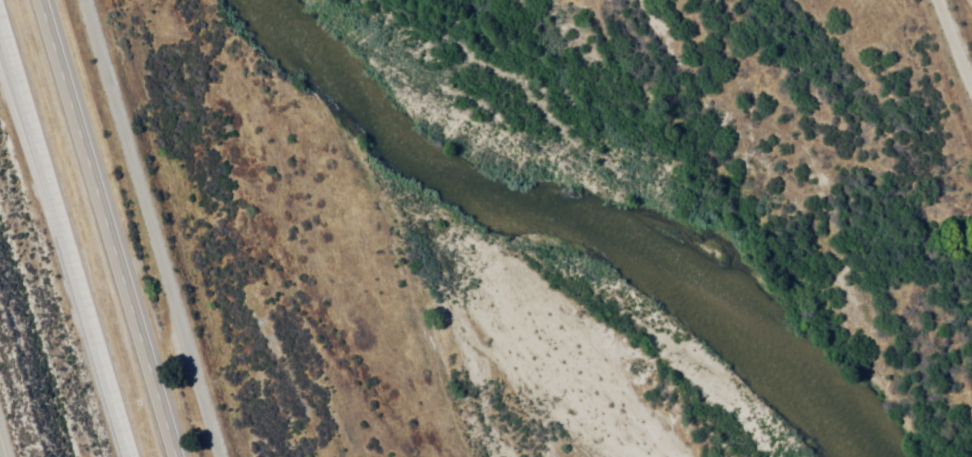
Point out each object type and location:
road: (967, 11)
road: (109, 228)
road: (153, 228)
river: (565, 229)
road: (65, 237)
road: (2, 447)

